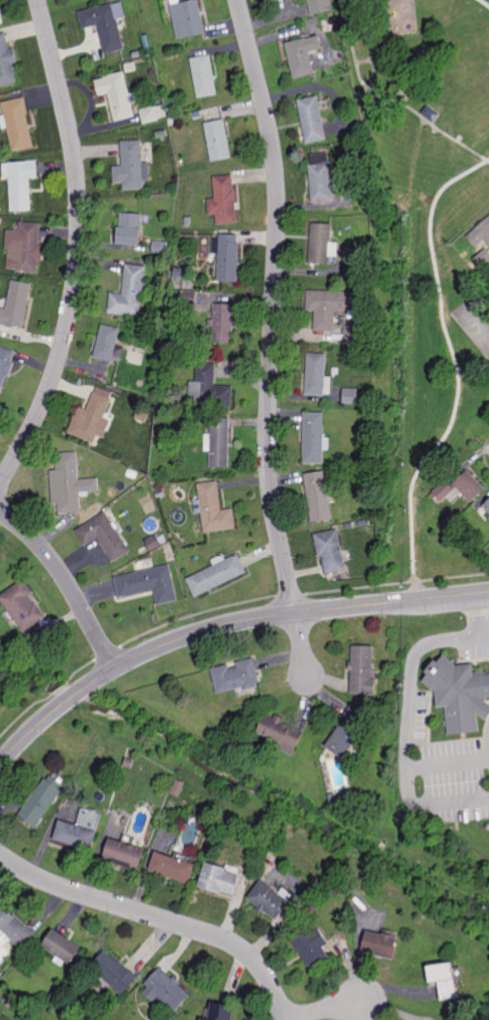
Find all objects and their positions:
building: (275, 0)
building: (116, 1)
road: (485, 2)
building: (319, 6)
building: (188, 18)
building: (1, 19)
building: (103, 26)
building: (303, 55)
building: (6, 62)
building: (339, 65)
building: (130, 67)
building: (204, 76)
building: (116, 95)
road: (391, 98)
building: (169, 111)
building: (148, 114)
building: (430, 114)
building: (312, 119)
building: (17, 123)
building: (163, 134)
building: (218, 140)
building: (132, 165)
building: (320, 182)
building: (21, 184)
building: (223, 200)
building: (188, 221)
building: (130, 229)
building: (480, 233)
building: (320, 244)
building: (455, 245)
building: (28, 247)
building: (159, 247)
road: (79, 248)
park: (425, 248)
building: (228, 258)
building: (482, 258)
building: (129, 293)
building: (185, 298)
building: (17, 304)
road: (274, 305)
building: (331, 306)
building: (223, 323)
building: (355, 336)
building: (108, 344)
building: (5, 365)
road: (455, 369)
building: (317, 375)
building: (210, 389)
building: (350, 397)
building: (92, 418)
building: (195, 425)
building: (369, 428)
building: (314, 438)
building: (220, 443)
building: (132, 474)
building: (69, 483)
building: (461, 488)
building: (160, 494)
building: (318, 496)
building: (487, 505)
building: (214, 508)
building: (364, 522)
building: (349, 525)
building: (104, 535)
building: (152, 541)
building: (330, 549)
building: (3, 571)
building: (216, 574)
road: (66, 582)
building: (149, 583)
building: (22, 604)
road: (480, 613)
road: (223, 626)
road: (485, 637)
building: (26, 639)
road: (440, 640)
road: (301, 644)
building: (362, 669)
building: (234, 675)
building: (460, 696)
building: (280, 732)
building: (348, 732)
road: (406, 773)
building: (177, 788)
building: (41, 800)
building: (79, 830)
building: (125, 854)
building: (173, 868)
building: (219, 880)
building: (269, 900)
road: (160, 918)
building: (14, 928)
building: (381, 944)
building: (62, 947)
building: (312, 950)
building: (113, 970)
building: (443, 980)
building: (165, 989)
road: (325, 1008)
building: (220, 1011)

